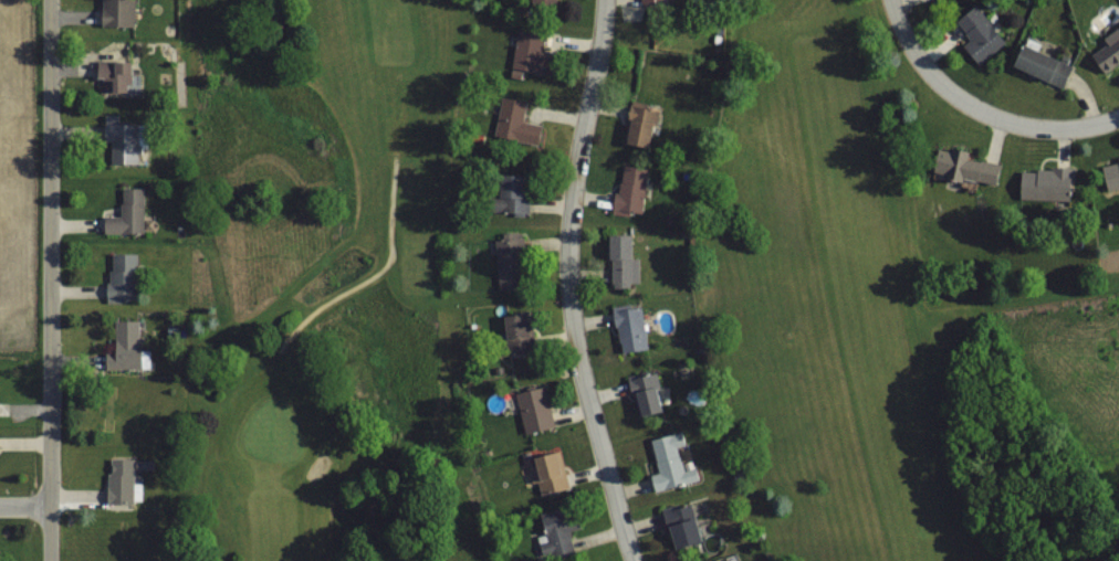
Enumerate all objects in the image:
building: (652, 2)
building: (542, 12)
building: (115, 13)
building: (977, 34)
building: (1105, 52)
building: (532, 54)
building: (1038, 66)
building: (112, 75)
road: (980, 107)
building: (514, 123)
building: (639, 126)
building: (121, 144)
building: (971, 168)
building: (1109, 172)
building: (1043, 182)
building: (629, 190)
building: (511, 192)
building: (125, 212)
building: (509, 261)
building: (618, 261)
building: (119, 274)
road: (51, 280)
road: (571, 283)
park: (334, 286)
building: (628, 327)
park: (914, 327)
building: (514, 332)
building: (124, 342)
building: (645, 393)
building: (533, 407)
building: (670, 461)
building: (548, 470)
building: (119, 479)
road: (24, 506)
building: (679, 525)
building: (556, 531)

